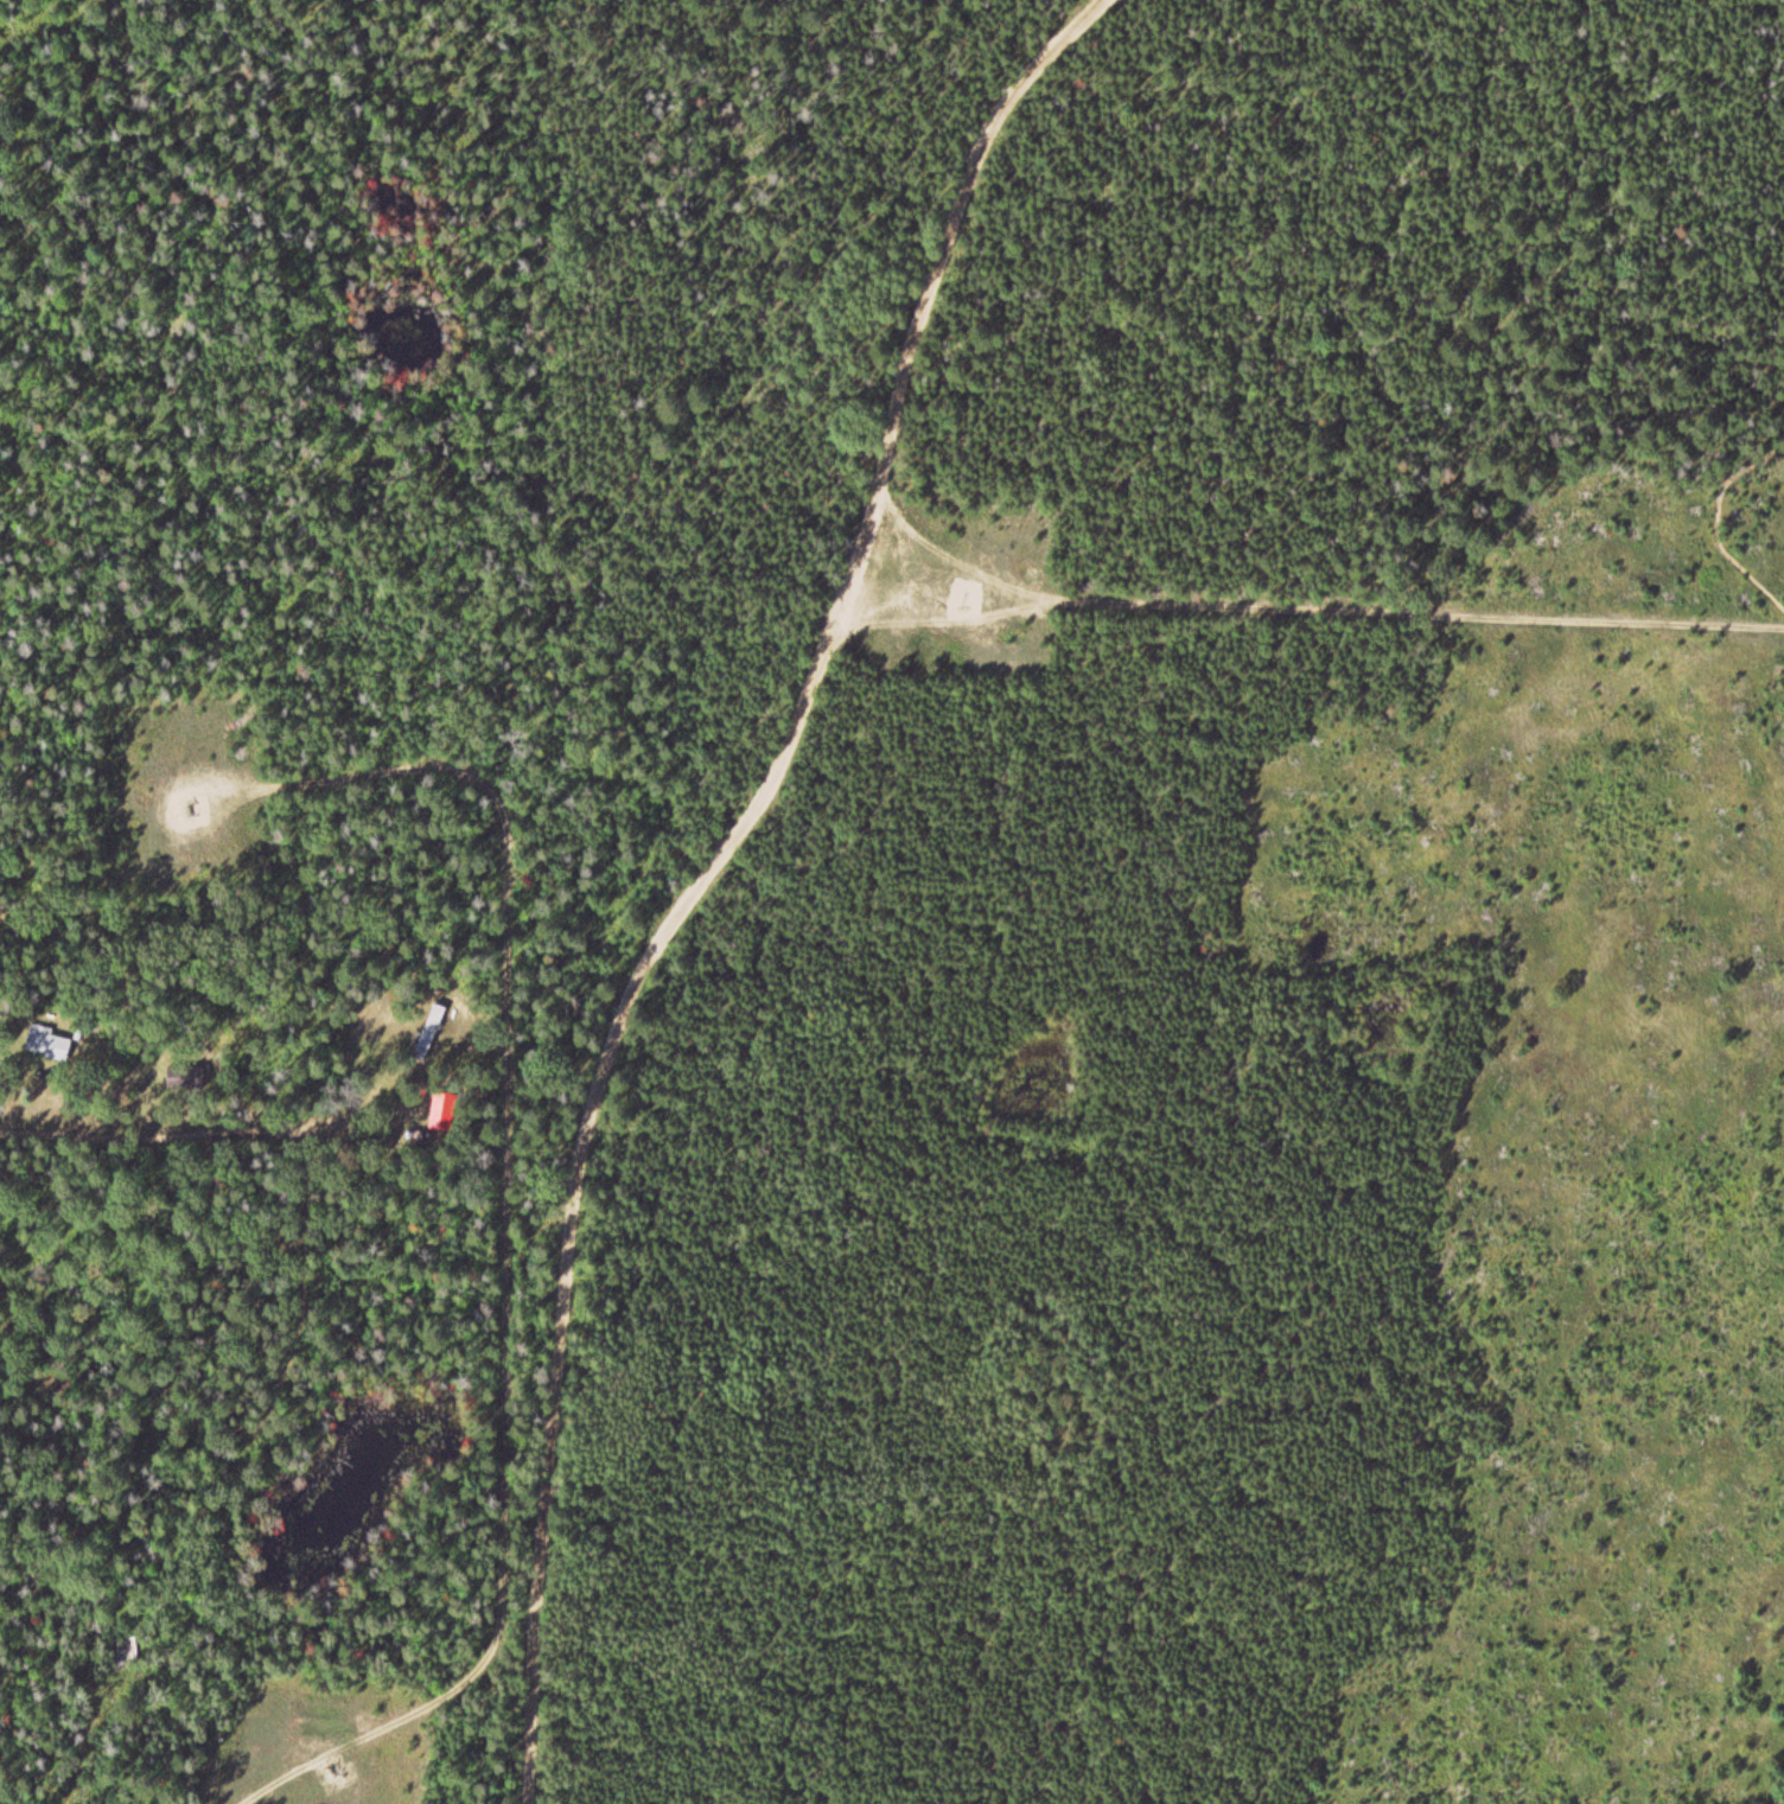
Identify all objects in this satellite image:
road: (1712, 504)
road: (1299, 614)
petroleum well: (177, 797)
road: (697, 867)
building: (429, 1033)
building: (47, 1044)
building: (184, 1078)
building: (439, 1117)
road: (501, 1224)
petroleum well: (334, 1774)

